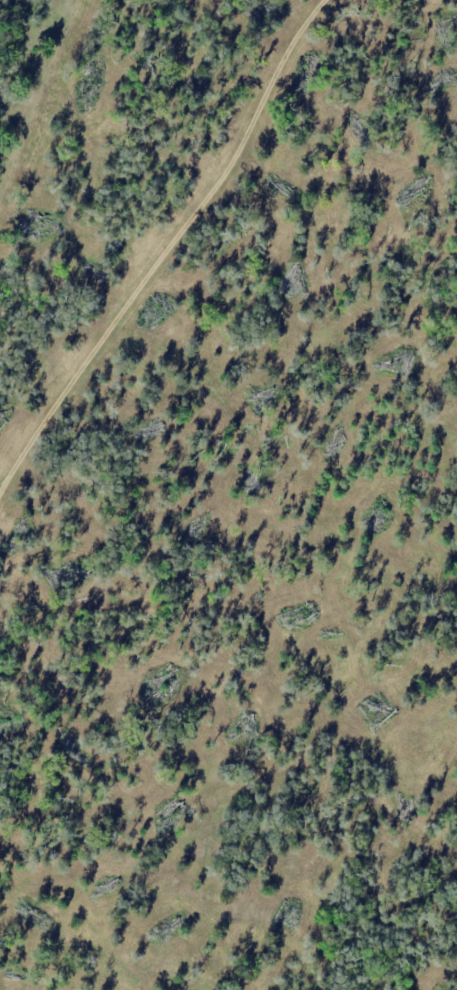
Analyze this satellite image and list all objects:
road: (169, 247)

